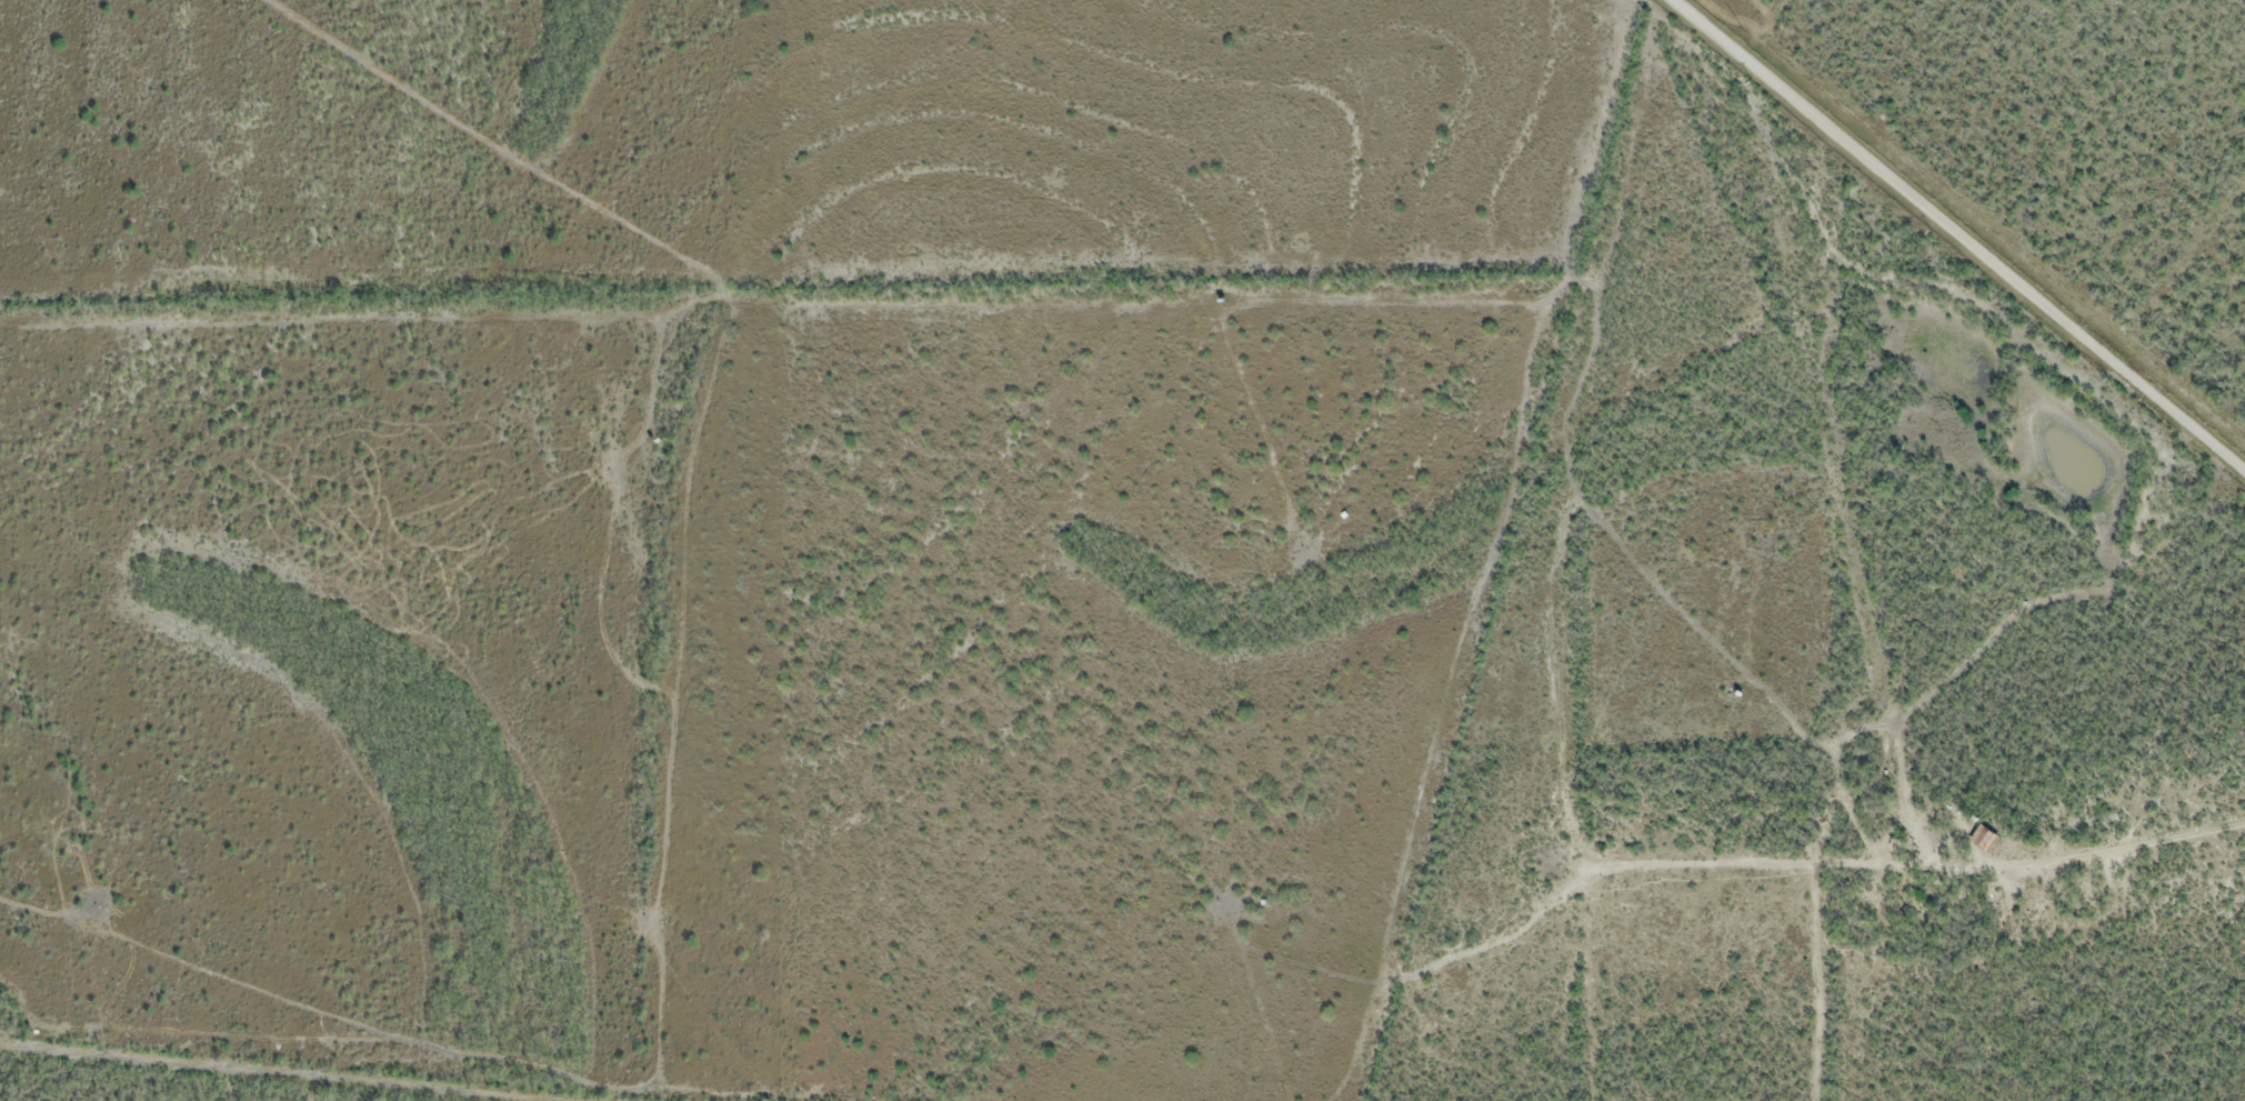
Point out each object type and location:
road: (1956, 238)
building: (1983, 838)

